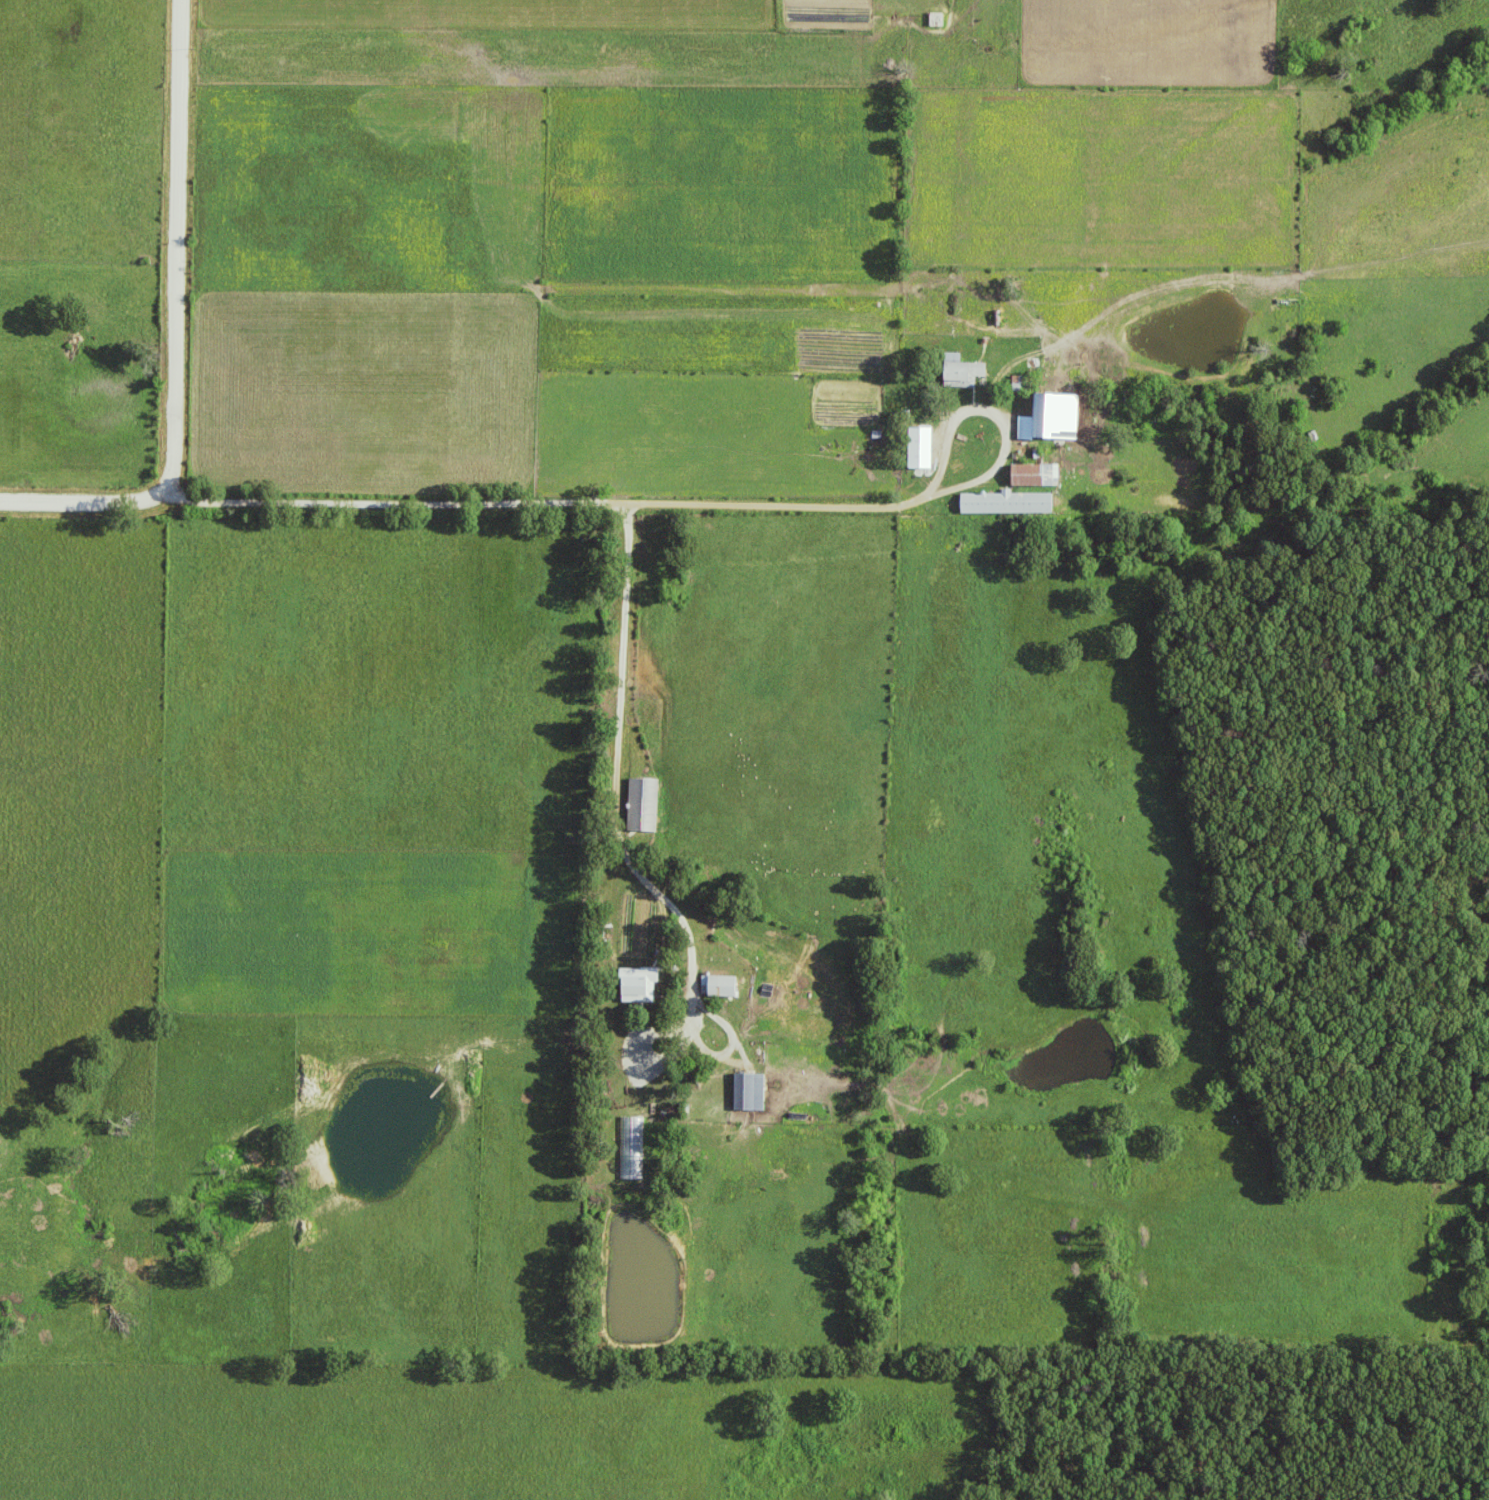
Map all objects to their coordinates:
road: (183, 249)
building: (964, 369)
building: (1053, 418)
road: (1002, 437)
building: (1036, 475)
road: (89, 497)
road: (559, 503)
building: (1008, 503)
road: (621, 799)
building: (644, 805)
building: (640, 985)
building: (720, 986)
building: (750, 1093)

